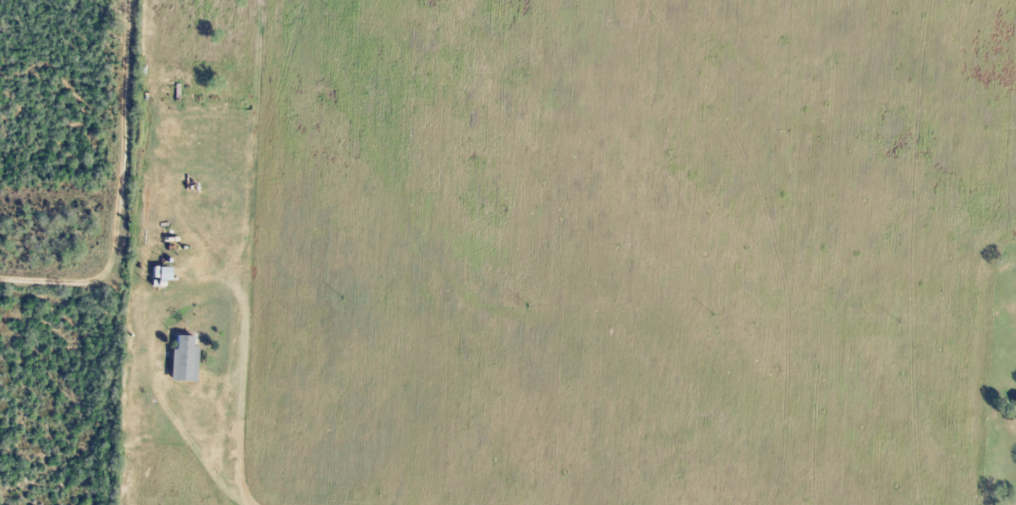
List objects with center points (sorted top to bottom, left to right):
building: (185, 351)

